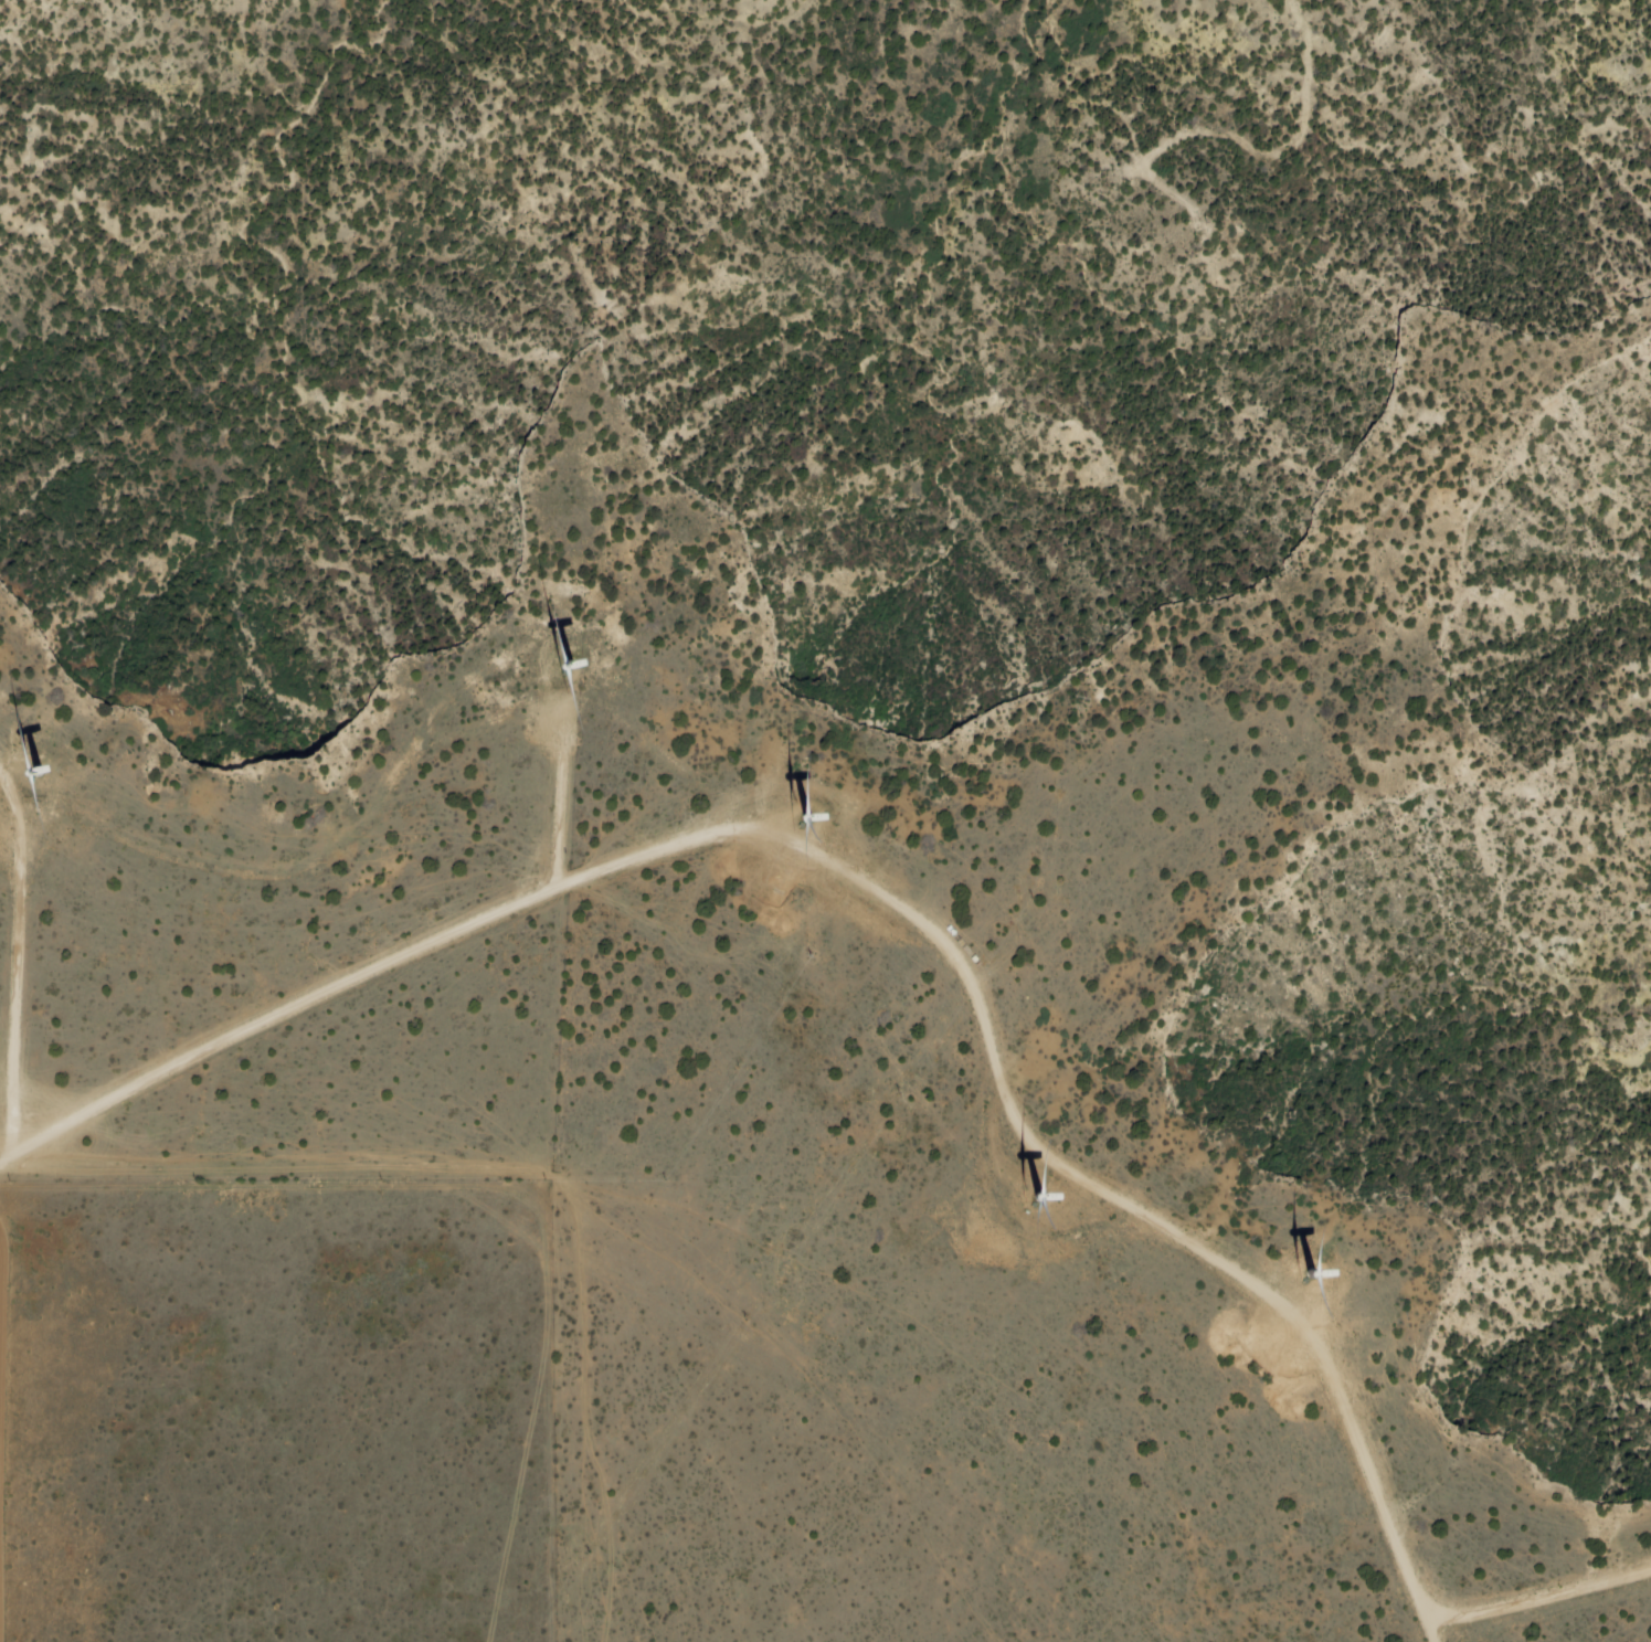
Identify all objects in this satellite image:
power tower: (1202, 224)
wind turbine: (563, 669)
power tower: (1087, 700)
wind turbine: (33, 769)
wind turbine: (802, 815)
road: (14, 964)
road: (275, 1013)
road: (991, 1061)
road: (4, 1158)
road: (84, 1187)
wind turbine: (1037, 1198)
road: (541, 1241)
road: (76, 1259)
wind turbine: (1309, 1275)
crop: (252, 1402)
road: (1538, 1597)
road: (1429, 1634)

